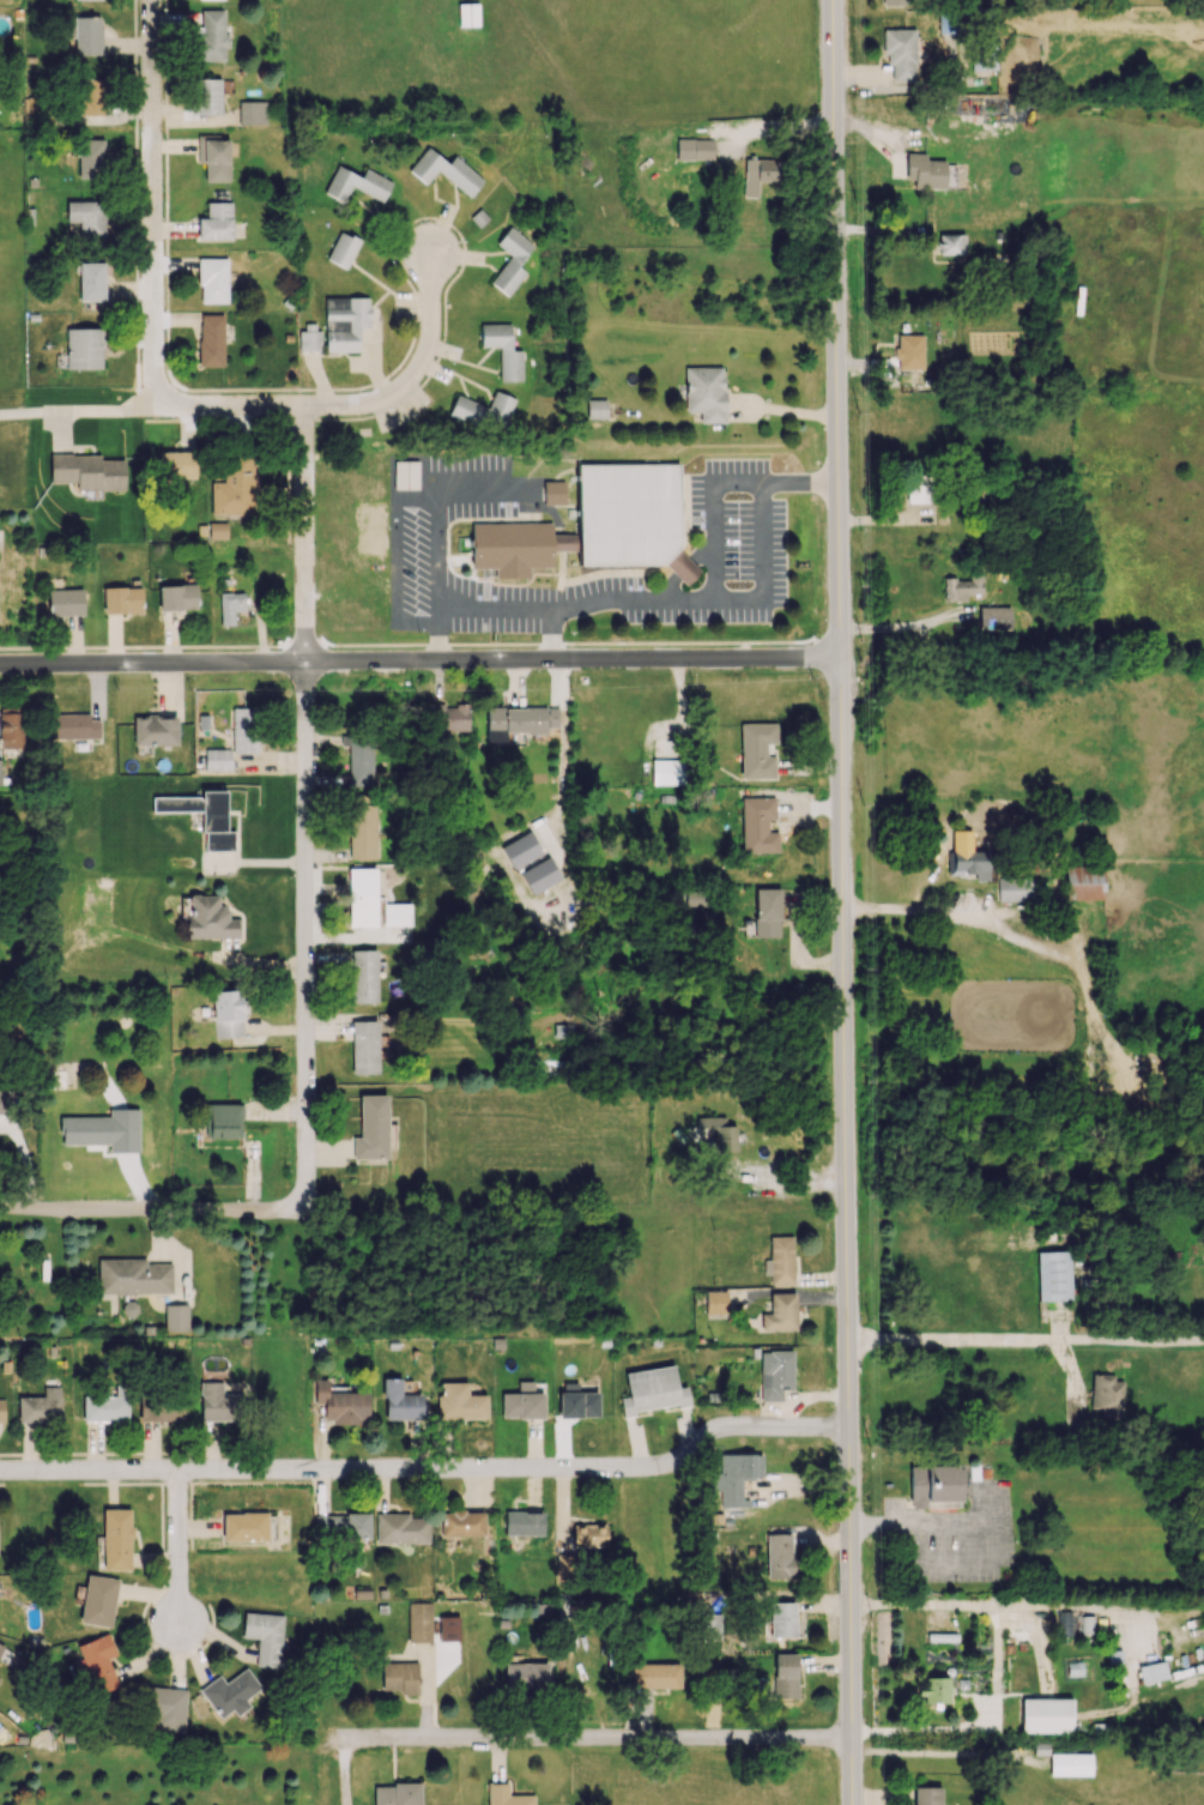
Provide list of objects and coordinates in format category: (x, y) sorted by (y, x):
building: (893, 2)
building: (467, 14)
building: (86, 35)
building: (210, 36)
building: (900, 53)
building: (92, 96)
building: (207, 96)
building: (36, 111)
building: (252, 113)
road: (914, 138)
building: (694, 149)
building: (213, 156)
building: (90, 158)
building: (444, 171)
building: (925, 171)
building: (758, 174)
building: (356, 183)
road: (153, 203)
building: (87, 218)
building: (216, 222)
building: (950, 243)
building: (343, 249)
building: (510, 260)
building: (212, 279)
building: (91, 280)
building: (344, 321)
road: (837, 330)
building: (210, 339)
building: (309, 340)
building: (84, 348)
building: (503, 350)
building: (908, 351)
road: (419, 372)
building: (704, 392)
road: (173, 406)
road: (19, 409)
building: (595, 409)
building: (483, 410)
building: (176, 465)
building: (87, 471)
building: (404, 477)
building: (234, 488)
building: (916, 489)
building: (553, 493)
building: (597, 525)
building: (218, 530)
road: (713, 561)
building: (961, 587)
building: (177, 597)
building: (121, 599)
building: (65, 602)
building: (230, 606)
road: (492, 610)
building: (993, 617)
road: (910, 623)
road: (421, 660)
building: (450, 717)
building: (519, 720)
building: (72, 726)
building: (10, 728)
building: (243, 730)
building: (155, 731)
building: (756, 750)
building: (358, 759)
building: (217, 760)
building: (667, 772)
road: (307, 808)
building: (202, 816)
building: (757, 825)
building: (361, 832)
building: (520, 850)
building: (968, 863)
building: (539, 875)
building: (1083, 882)
building: (1015, 887)
building: (362, 897)
building: (767, 912)
building: (397, 913)
road: (939, 914)
building: (208, 918)
building: (363, 976)
building: (226, 1013)
building: (364, 1046)
building: (5, 1103)
building: (222, 1121)
building: (371, 1128)
building: (715, 1134)
road: (128, 1145)
road: (773, 1184)
road: (149, 1211)
road: (847, 1231)
building: (780, 1260)
building: (1053, 1275)
building: (132, 1276)
building: (715, 1302)
building: (780, 1312)
building: (175, 1317)
road: (1025, 1341)
building: (774, 1374)
building: (653, 1390)
building: (1106, 1395)
building: (399, 1401)
building: (459, 1401)
building: (577, 1401)
building: (218, 1402)
building: (522, 1402)
building: (339, 1403)
building: (40, 1406)
building: (107, 1406)
building: (159, 1408)
building: (1, 1409)
road: (429, 1471)
building: (733, 1477)
building: (933, 1486)
building: (462, 1522)
building: (524, 1522)
road: (916, 1522)
building: (244, 1526)
building: (343, 1527)
building: (400, 1528)
building: (116, 1539)
road: (180, 1550)
building: (779, 1556)
building: (564, 1565)
building: (98, 1600)
road: (948, 1611)
building: (782, 1619)
building: (418, 1622)
building: (1075, 1622)
building: (710, 1626)
building: (448, 1628)
building: (265, 1636)
building: (1, 1647)
building: (97, 1664)
building: (1152, 1672)
building: (654, 1676)
building: (785, 1676)
building: (399, 1677)
building: (525, 1677)
building: (933, 1690)
building: (229, 1692)
building: (164, 1708)
building: (1046, 1715)
road: (588, 1741)
road: (944, 1757)
building: (1070, 1764)
building: (397, 1794)
building: (506, 1795)
building: (926, 1795)

